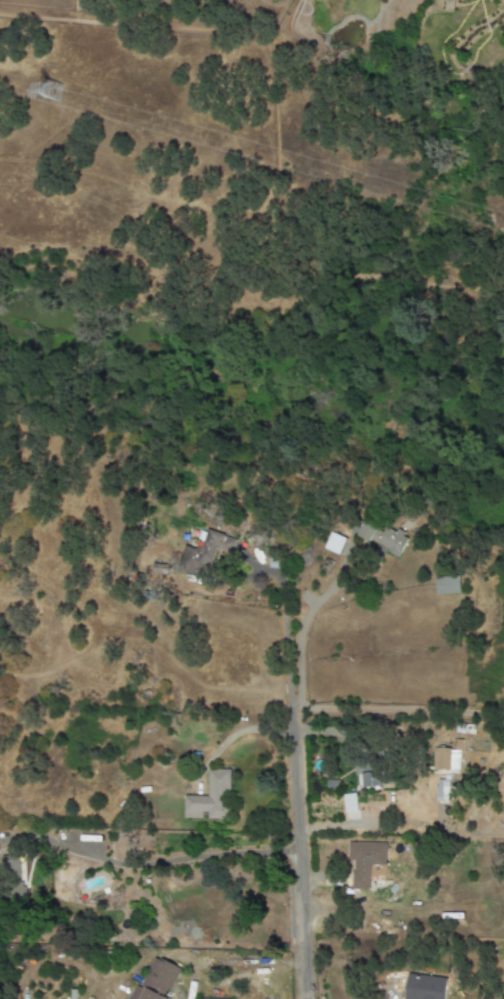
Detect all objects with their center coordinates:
power tower: (55, 94)
building: (381, 537)
building: (334, 543)
building: (205, 554)
building: (447, 585)
road: (403, 711)
building: (443, 759)
building: (454, 761)
building: (372, 780)
building: (441, 790)
building: (210, 798)
road: (304, 803)
road: (173, 860)
building: (364, 861)
building: (10, 877)
building: (155, 981)
road: (193, 989)

